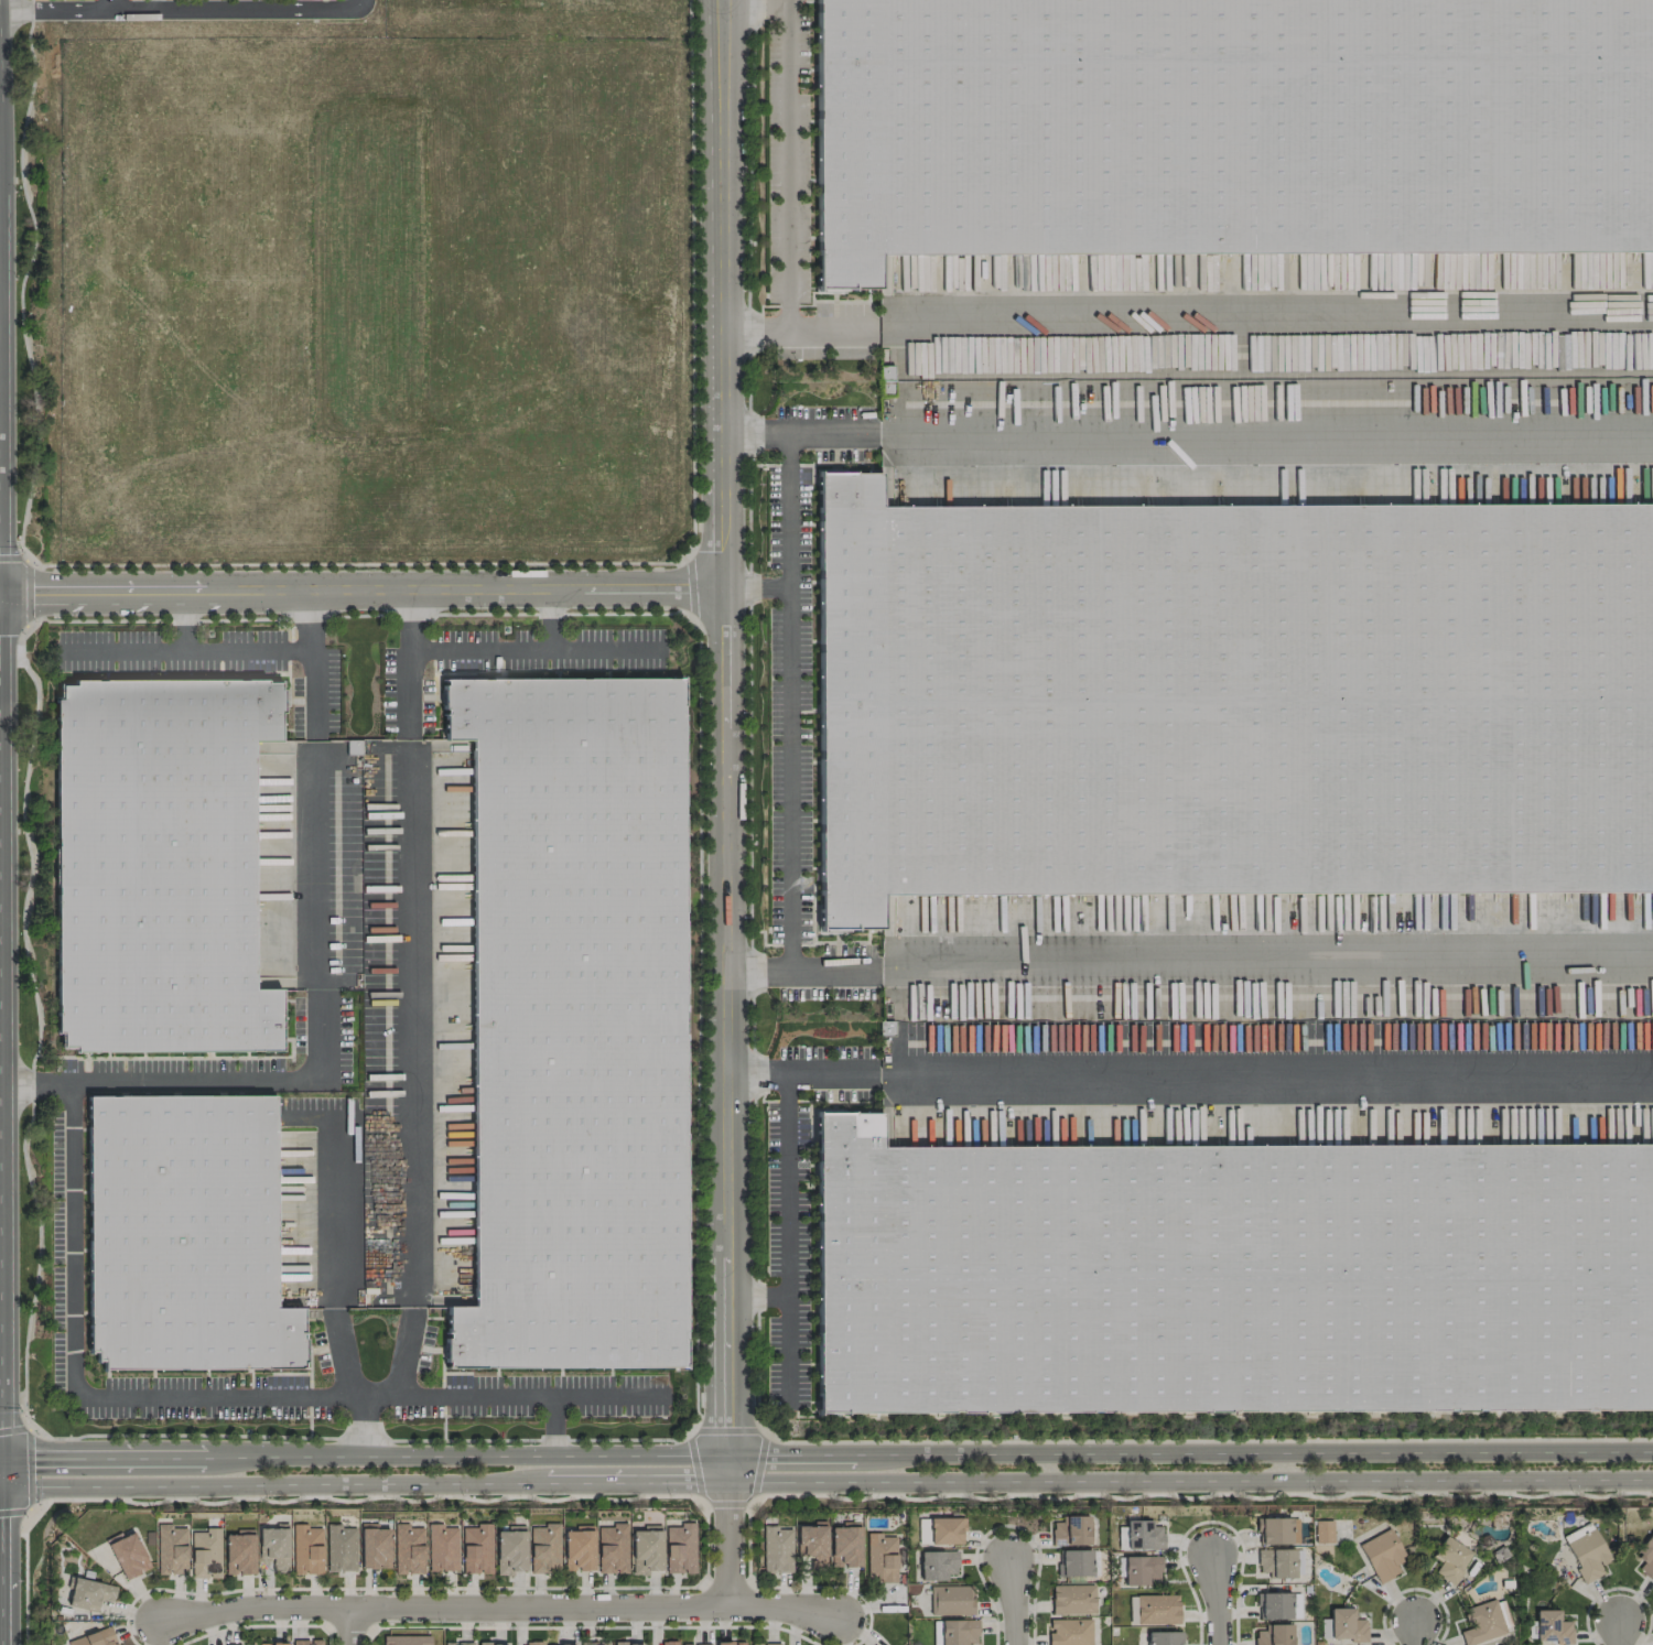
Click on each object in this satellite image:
parking lot: (72, 0)
parking lot: (112, 0)
road: (790, 1)
road: (757, 3)
road: (109, 4)
road: (183, 9)
building: (1229, 127)
road: (788, 198)
road: (1265, 329)
road: (832, 332)
building: (885, 379)
road: (1189, 435)
road: (60, 563)
road: (24, 580)
road: (363, 588)
road: (551, 619)
road: (182, 620)
road: (186, 650)
road: (478, 651)
road: (606, 651)
road: (406, 664)
road: (311, 665)
building: (1230, 700)
road: (790, 704)
road: (725, 734)
building: (158, 865)
road: (317, 865)
road: (1188, 961)
road: (409, 1022)
building: (573, 1022)
road: (1188, 1071)
road: (206, 1079)
road: (334, 1211)
building: (184, 1231)
road: (787, 1238)
building: (1231, 1275)
road: (757, 1294)
road: (28, 1300)
road: (339, 1352)
road: (402, 1370)
road: (73, 1381)
road: (531, 1394)
road: (0, 1420)
road: (359, 1424)
road: (550, 1424)
road: (747, 1430)
road: (624, 1439)
road: (825, 1453)
traffic signals: (2, 1458)
road: (29, 1468)
road: (825, 1482)
traffic signals: (3, 1487)
building: (946, 1530)
building: (1277, 1530)
building: (1070, 1532)
building: (1324, 1532)
road: (726, 1539)
building: (812, 1545)
building: (845, 1545)
building: (274, 1547)
building: (341, 1548)
building: (375, 1548)
building: (442, 1548)
building: (544, 1548)
building: (680, 1548)
building: (306, 1549)
building: (409, 1549)
building: (476, 1549)
building: (577, 1549)
building: (613, 1549)
building: (646, 1549)
building: (777, 1549)
building: (171, 1550)
building: (510, 1550)
building: (1586, 1551)
building: (239, 1552)
building: (207, 1555)
building: (128, 1556)
building: (1383, 1556)
road: (1, 1557)
building: (880, 1558)
building: (1646, 1558)
building: (1449, 1559)
building: (1074, 1562)
building: (1276, 1562)
building: (937, 1565)
building: (1141, 1569)
road: (23, 1578)
building: (89, 1593)
road: (1013, 1594)
road: (1219, 1597)
building: (1072, 1599)
building: (951, 1600)
building: (1273, 1606)
road: (504, 1609)
building: (1157, 1609)
building: (1481, 1623)
building: (1346, 1625)
road: (353, 1626)
road: (1416, 1626)
building: (1551, 1627)
road: (1617, 1627)
building: (958, 1632)
building: (1069, 1632)
building: (1274, 1635)
building: (95, 1638)
building: (1164, 1638)
building: (406, 1639)
building: (305, 1642)
building: (458, 1643)
building: (668, 1643)
building: (730, 1643)
building: (231, 1644)
building: (272, 1644)
building: (493, 1644)
building: (557, 1644)
building: (593, 1644)
building: (628, 1644)
building: (696, 1644)
building: (766, 1644)

